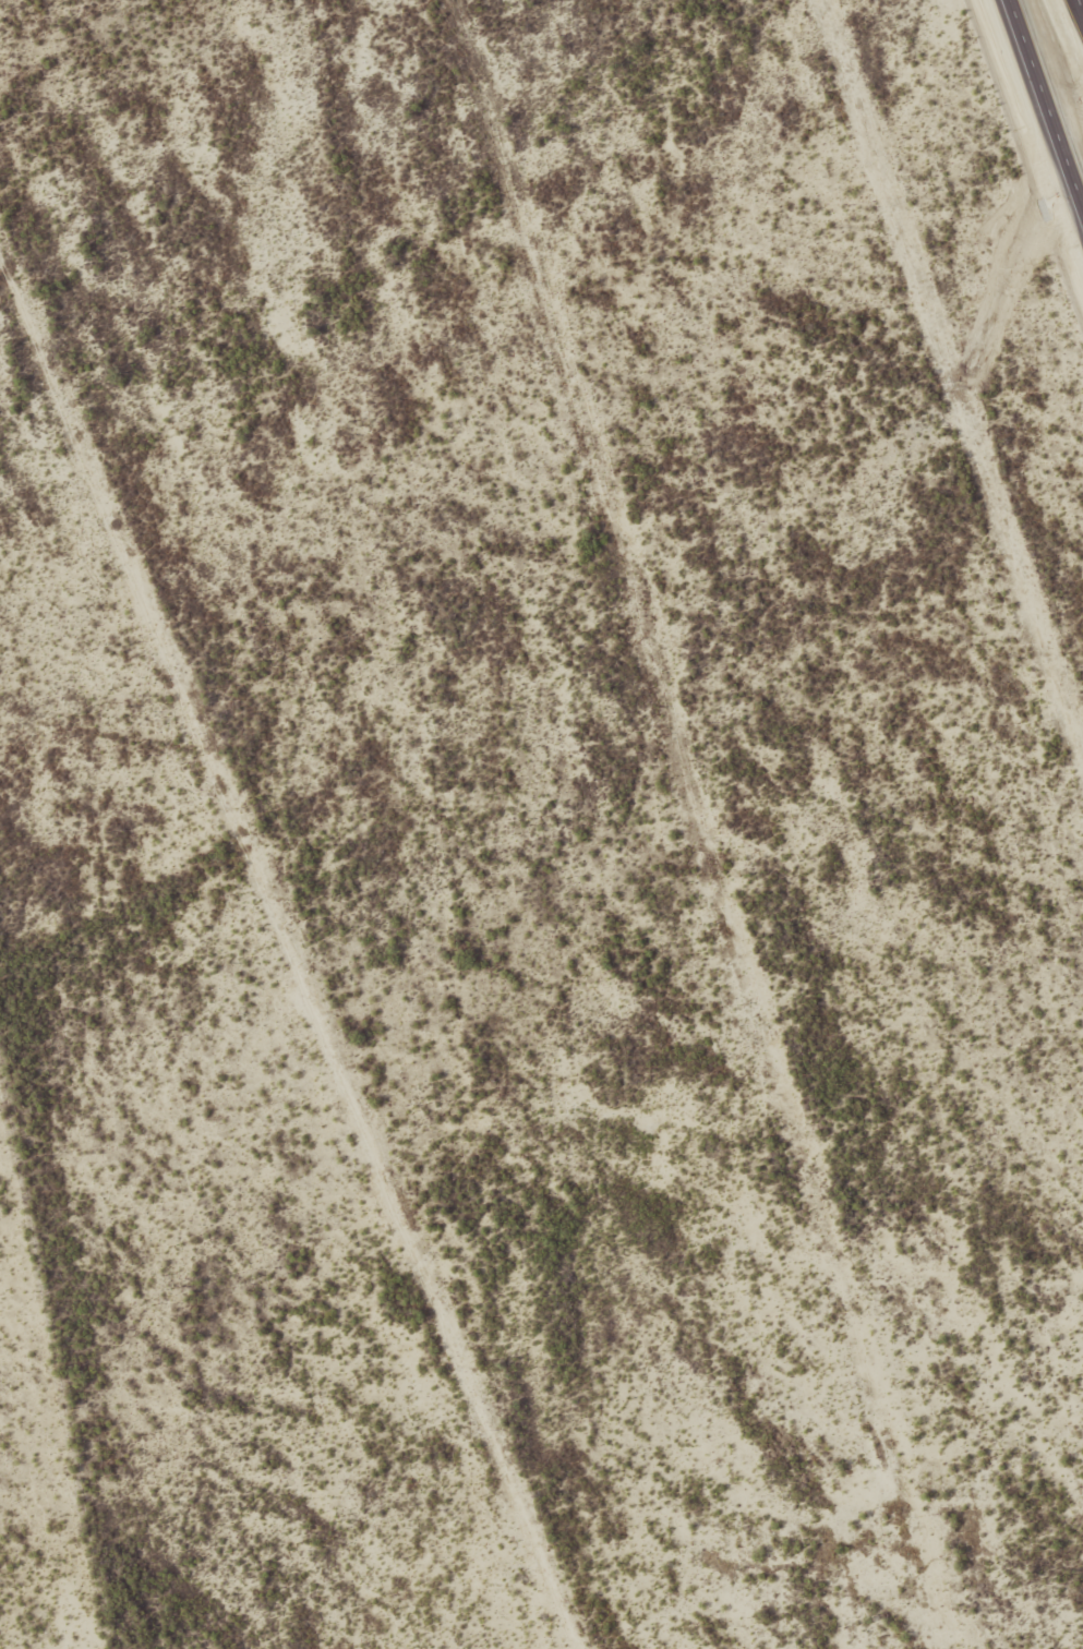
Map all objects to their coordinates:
road: (1082, 2)

